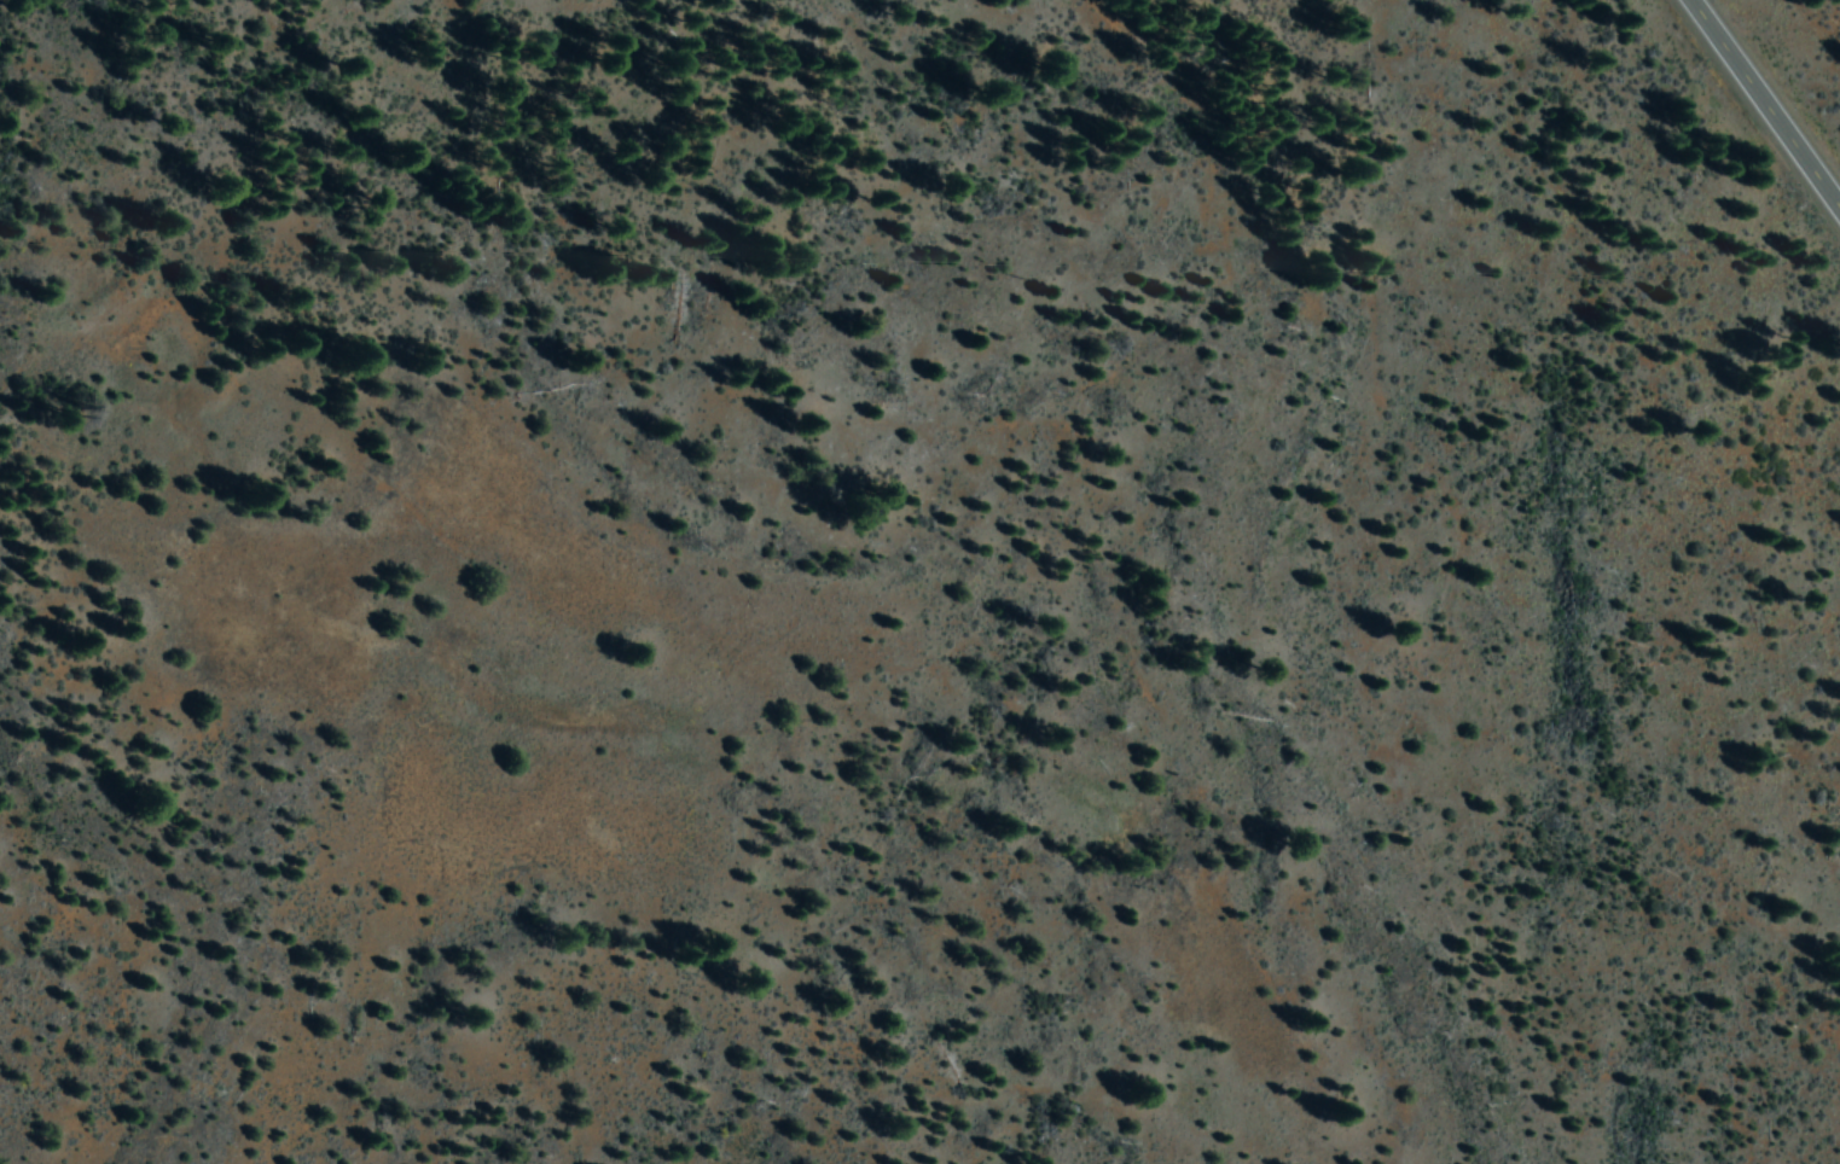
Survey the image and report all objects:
road: (1770, 99)

